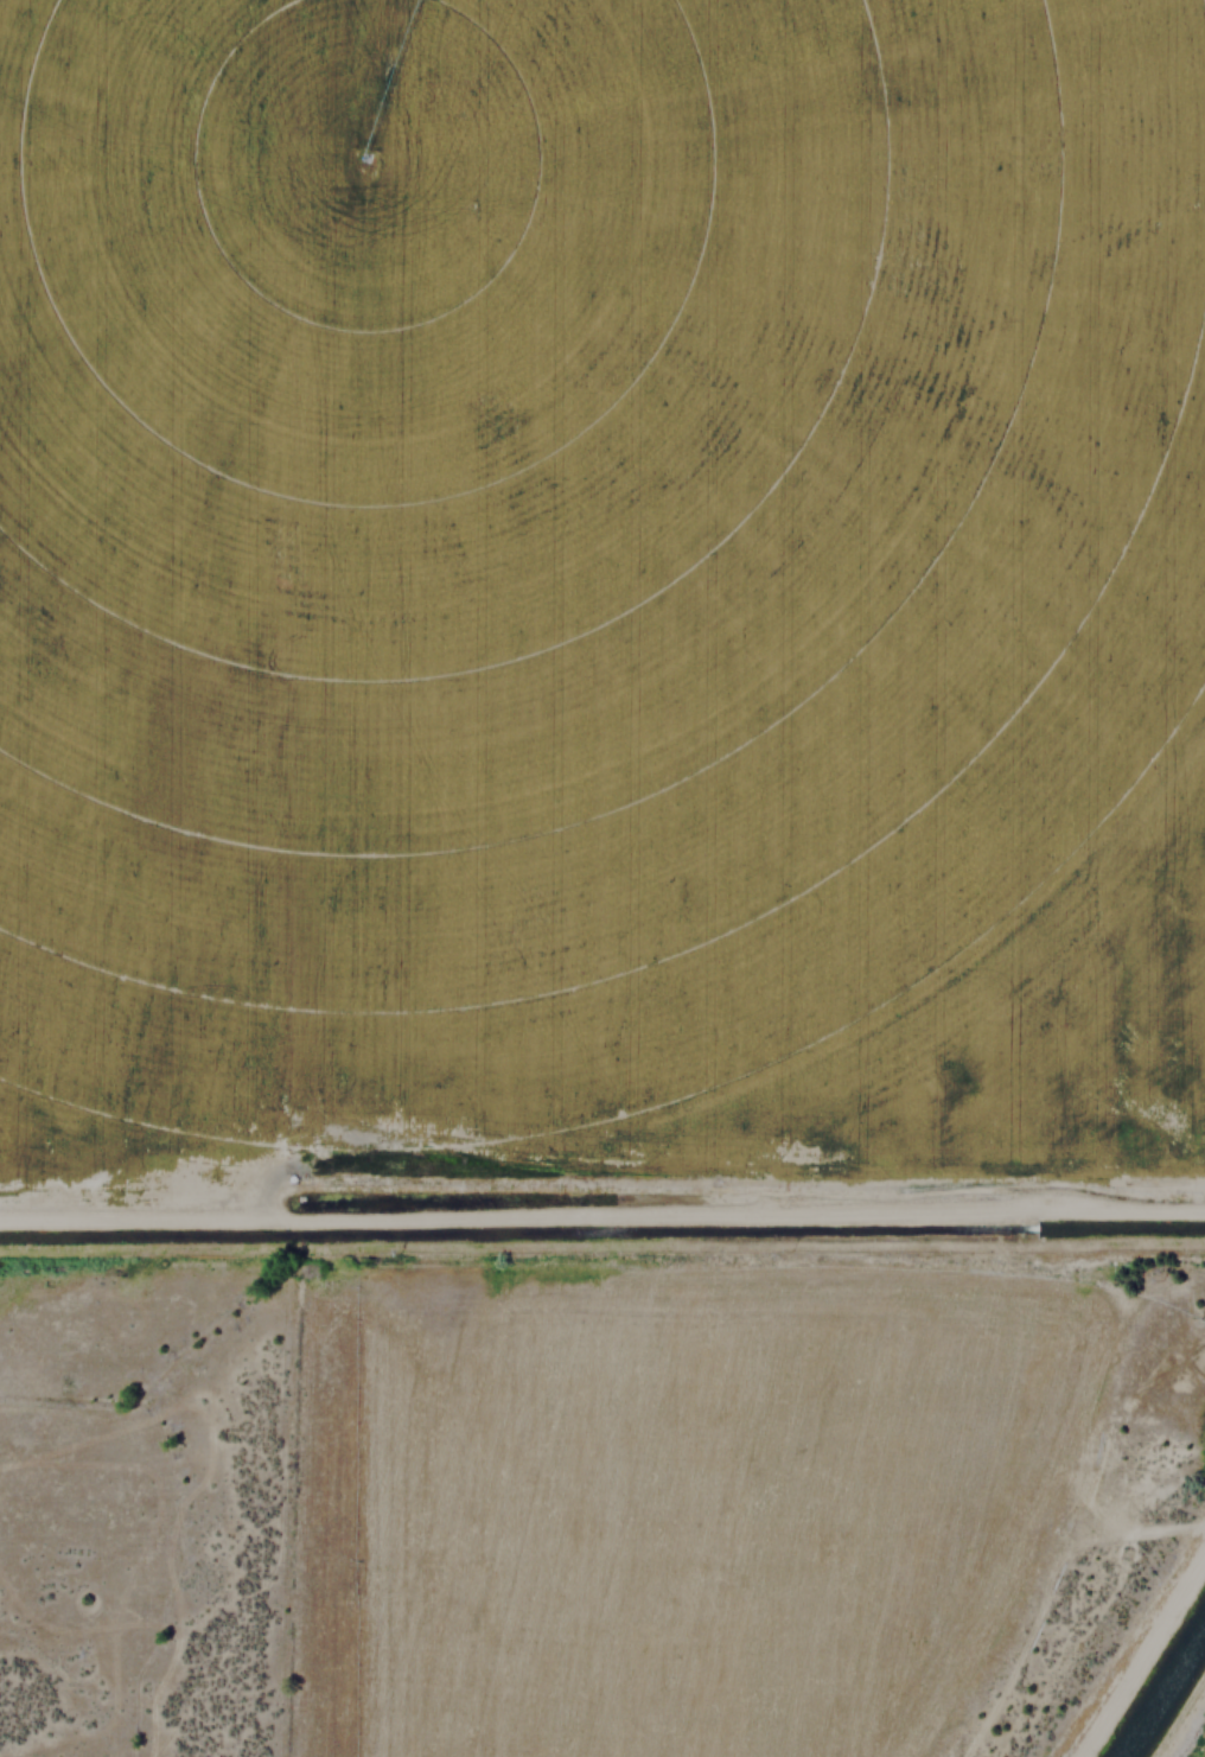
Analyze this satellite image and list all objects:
crop: (570, 561)
crop: (106, 1197)

